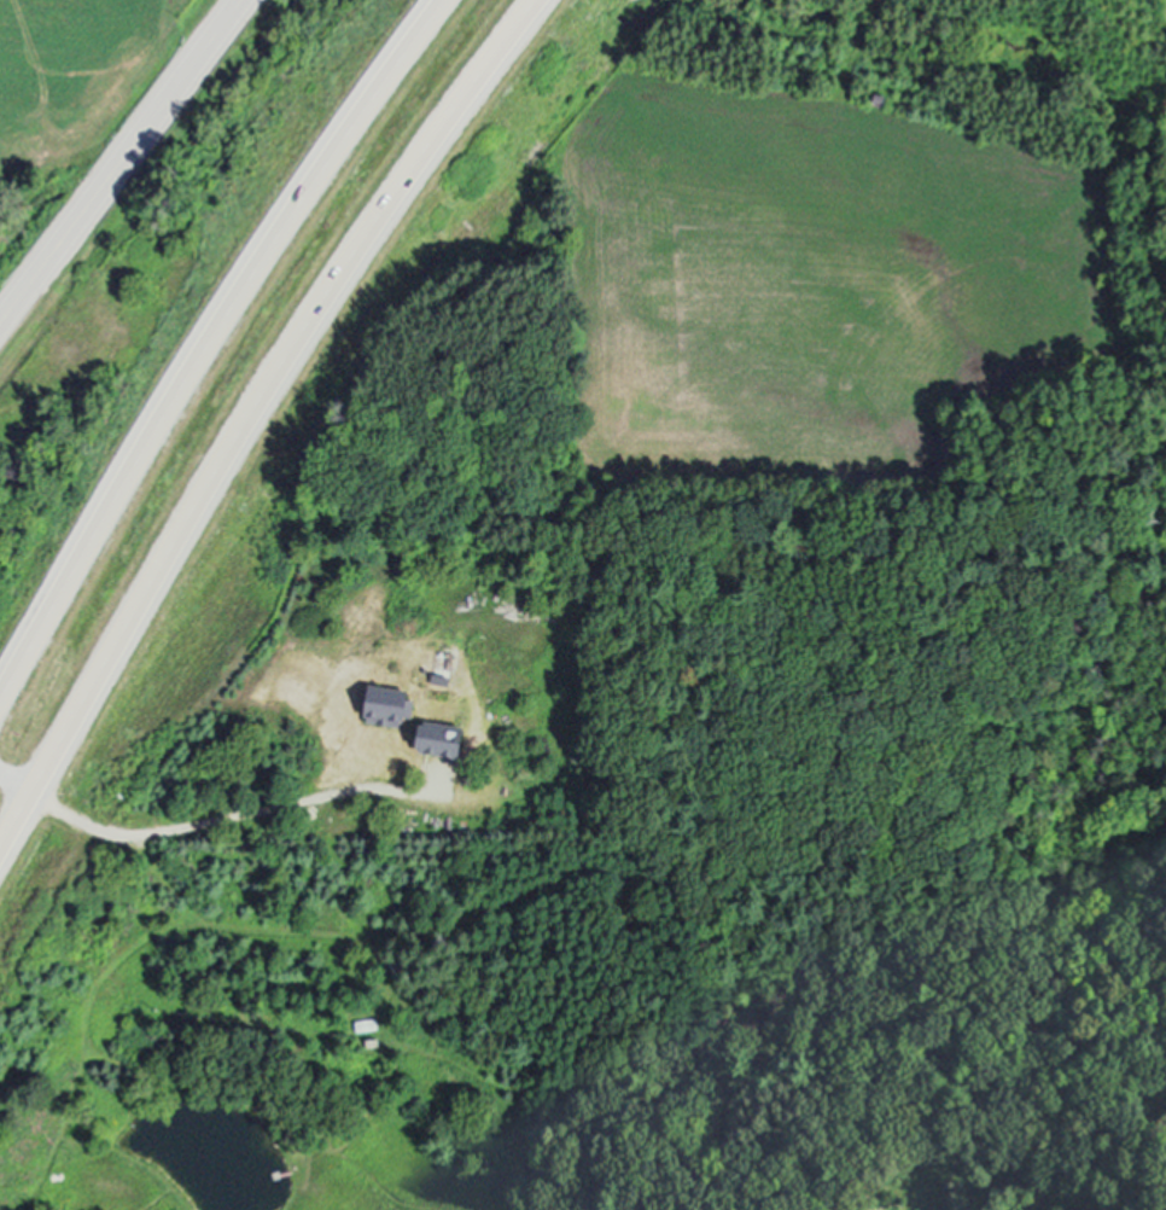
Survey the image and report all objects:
road: (122, 164)
road: (210, 345)
road: (257, 415)
building: (387, 705)
building: (443, 738)
road: (17, 778)
road: (238, 805)

